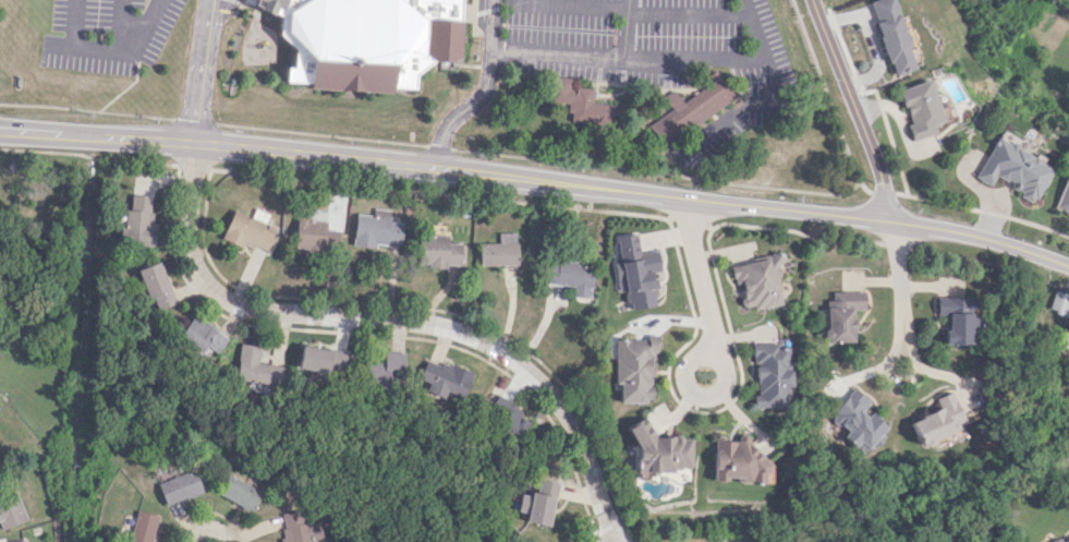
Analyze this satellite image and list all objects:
parking lot: (232, 1)
road: (234, 1)
parking lot: (106, 34)
building: (890, 35)
building: (364, 39)
parking lot: (631, 39)
road: (106, 49)
road: (582, 55)
road: (718, 56)
road: (202, 69)
road: (123, 88)
road: (823, 89)
road: (481, 93)
building: (580, 101)
building: (689, 108)
road: (853, 108)
building: (920, 108)
road: (87, 109)
road: (194, 121)
road: (31, 132)
road: (320, 134)
road: (437, 146)
road: (88, 153)
road: (191, 166)
building: (1012, 169)
road: (655, 170)
building: (151, 183)
road: (568, 183)
road: (863, 186)
road: (436, 192)
road: (882, 192)
building: (1064, 194)
road: (982, 209)
building: (138, 220)
road: (688, 222)
building: (377, 228)
building: (250, 229)
road: (794, 232)
building: (314, 233)
building: (437, 251)
building: (499, 251)
road: (898, 264)
building: (635, 272)
building: (570, 276)
road: (701, 277)
building: (757, 281)
building: (156, 285)
building: (1059, 303)
building: (842, 314)
building: (958, 318)
road: (396, 321)
building: (1067, 339)
building: (320, 360)
building: (633, 368)
building: (256, 369)
building: (385, 369)
building: (770, 374)
road: (911, 376)
building: (442, 377)
road: (707, 395)
building: (505, 417)
building: (939, 420)
building: (857, 421)
building: (657, 449)
building: (736, 459)
building: (0, 462)
building: (179, 486)
building: (240, 492)
building: (539, 503)
building: (11, 510)
building: (142, 527)
road: (207, 528)
road: (609, 538)
building: (1066, 540)
building: (21, 541)
building: (1057, 541)

